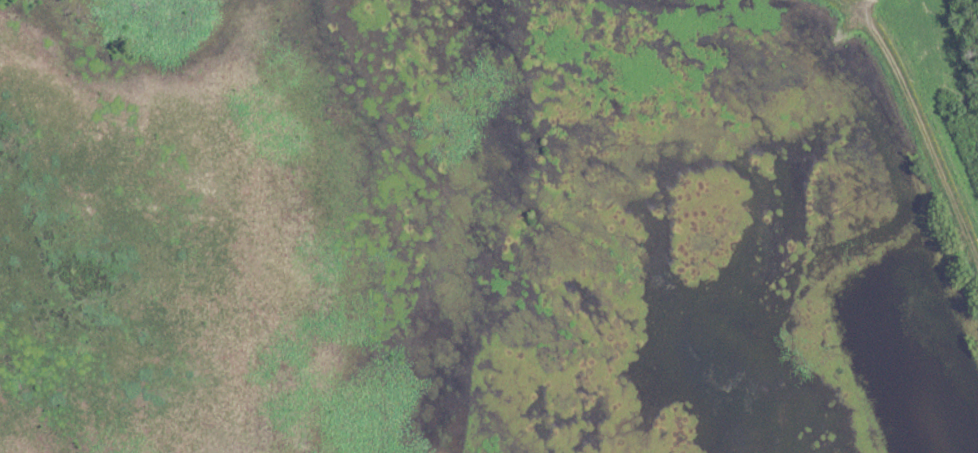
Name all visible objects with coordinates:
road: (867, 3)
road: (919, 126)

